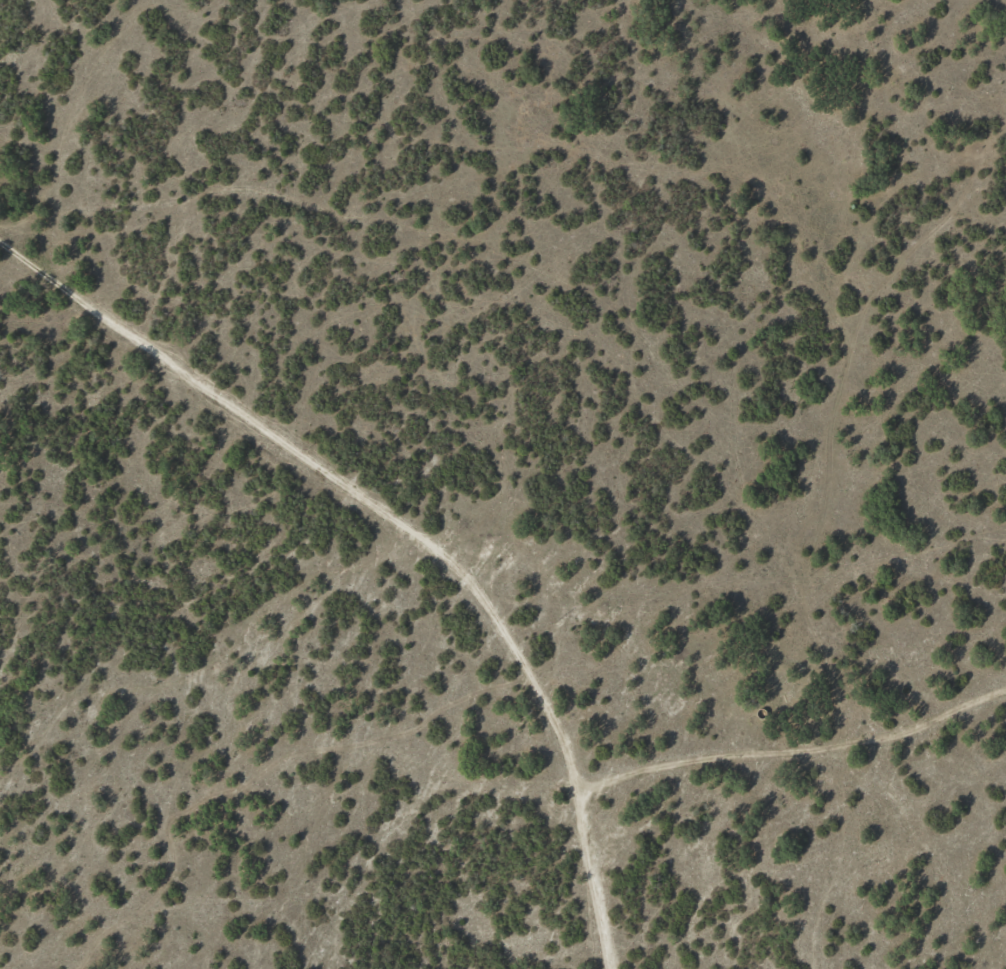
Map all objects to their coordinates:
road: (222, 360)
road: (776, 741)
road: (528, 747)

